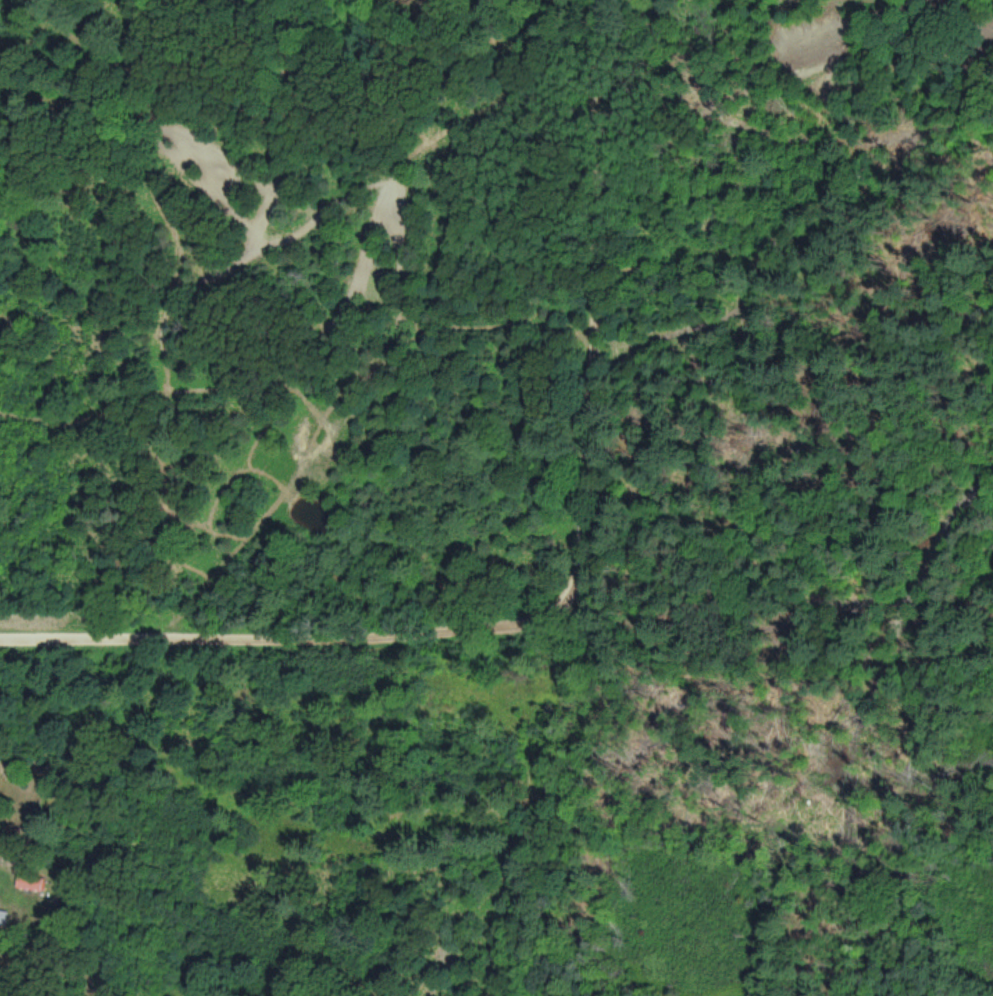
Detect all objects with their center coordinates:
road: (581, 301)
road: (274, 620)
building: (32, 883)
building: (3, 918)

